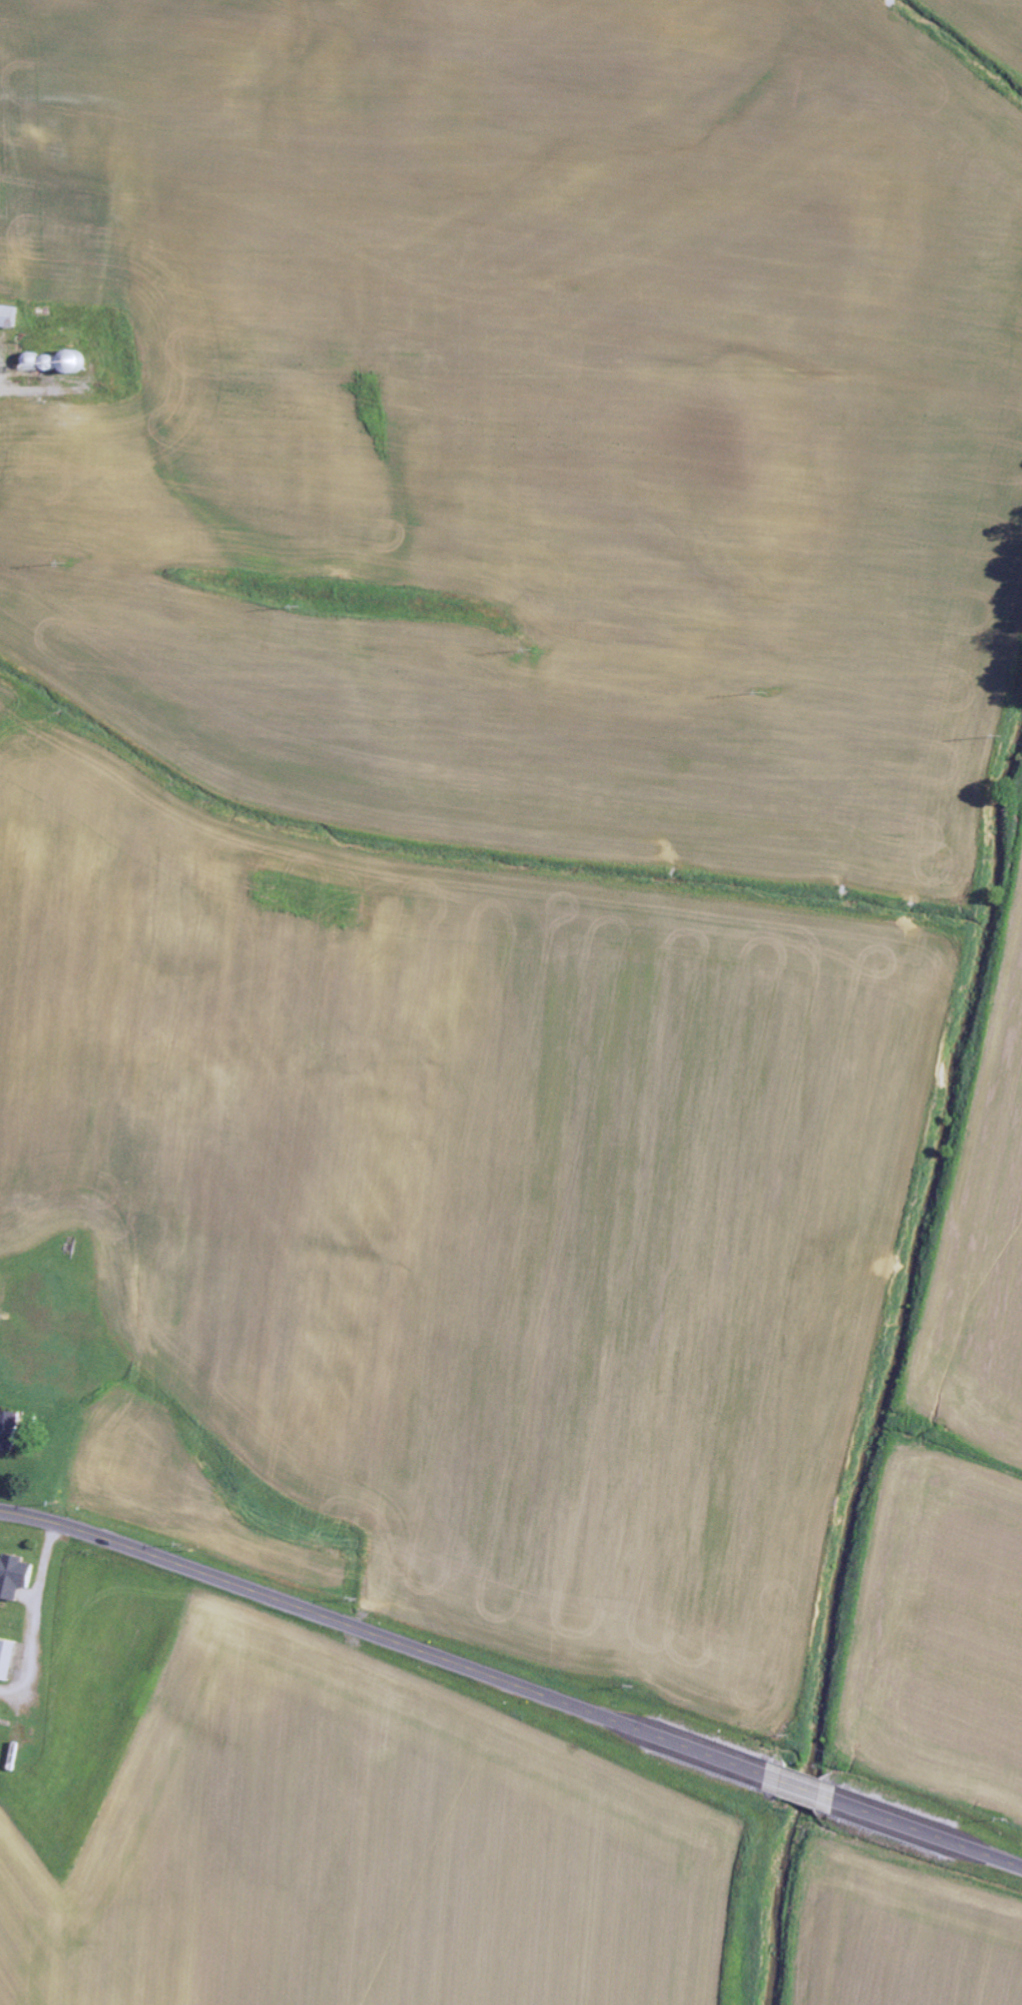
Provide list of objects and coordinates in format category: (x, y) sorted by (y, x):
building: (12, 317)
building: (0, 1273)
building: (14, 1430)
building: (18, 1576)
building: (11, 1659)
road: (512, 1684)

